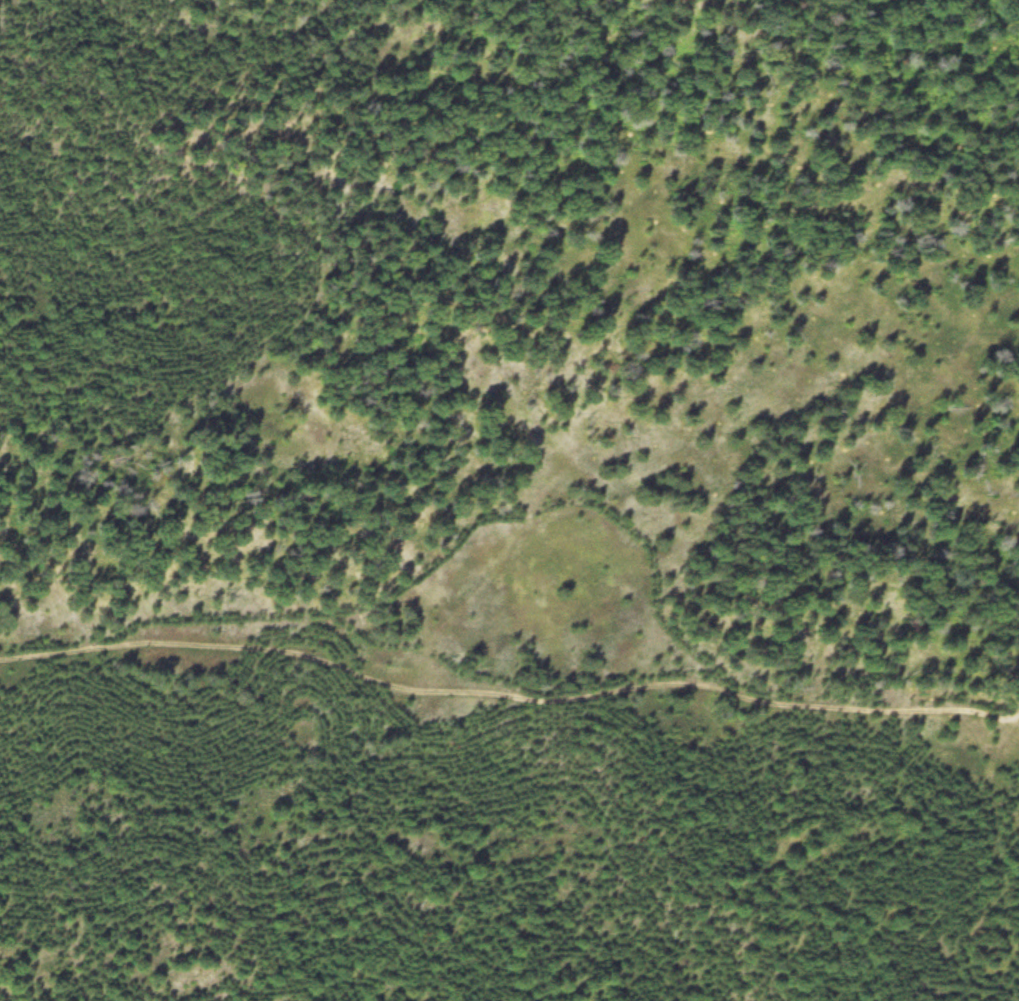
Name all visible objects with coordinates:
road: (507, 699)

